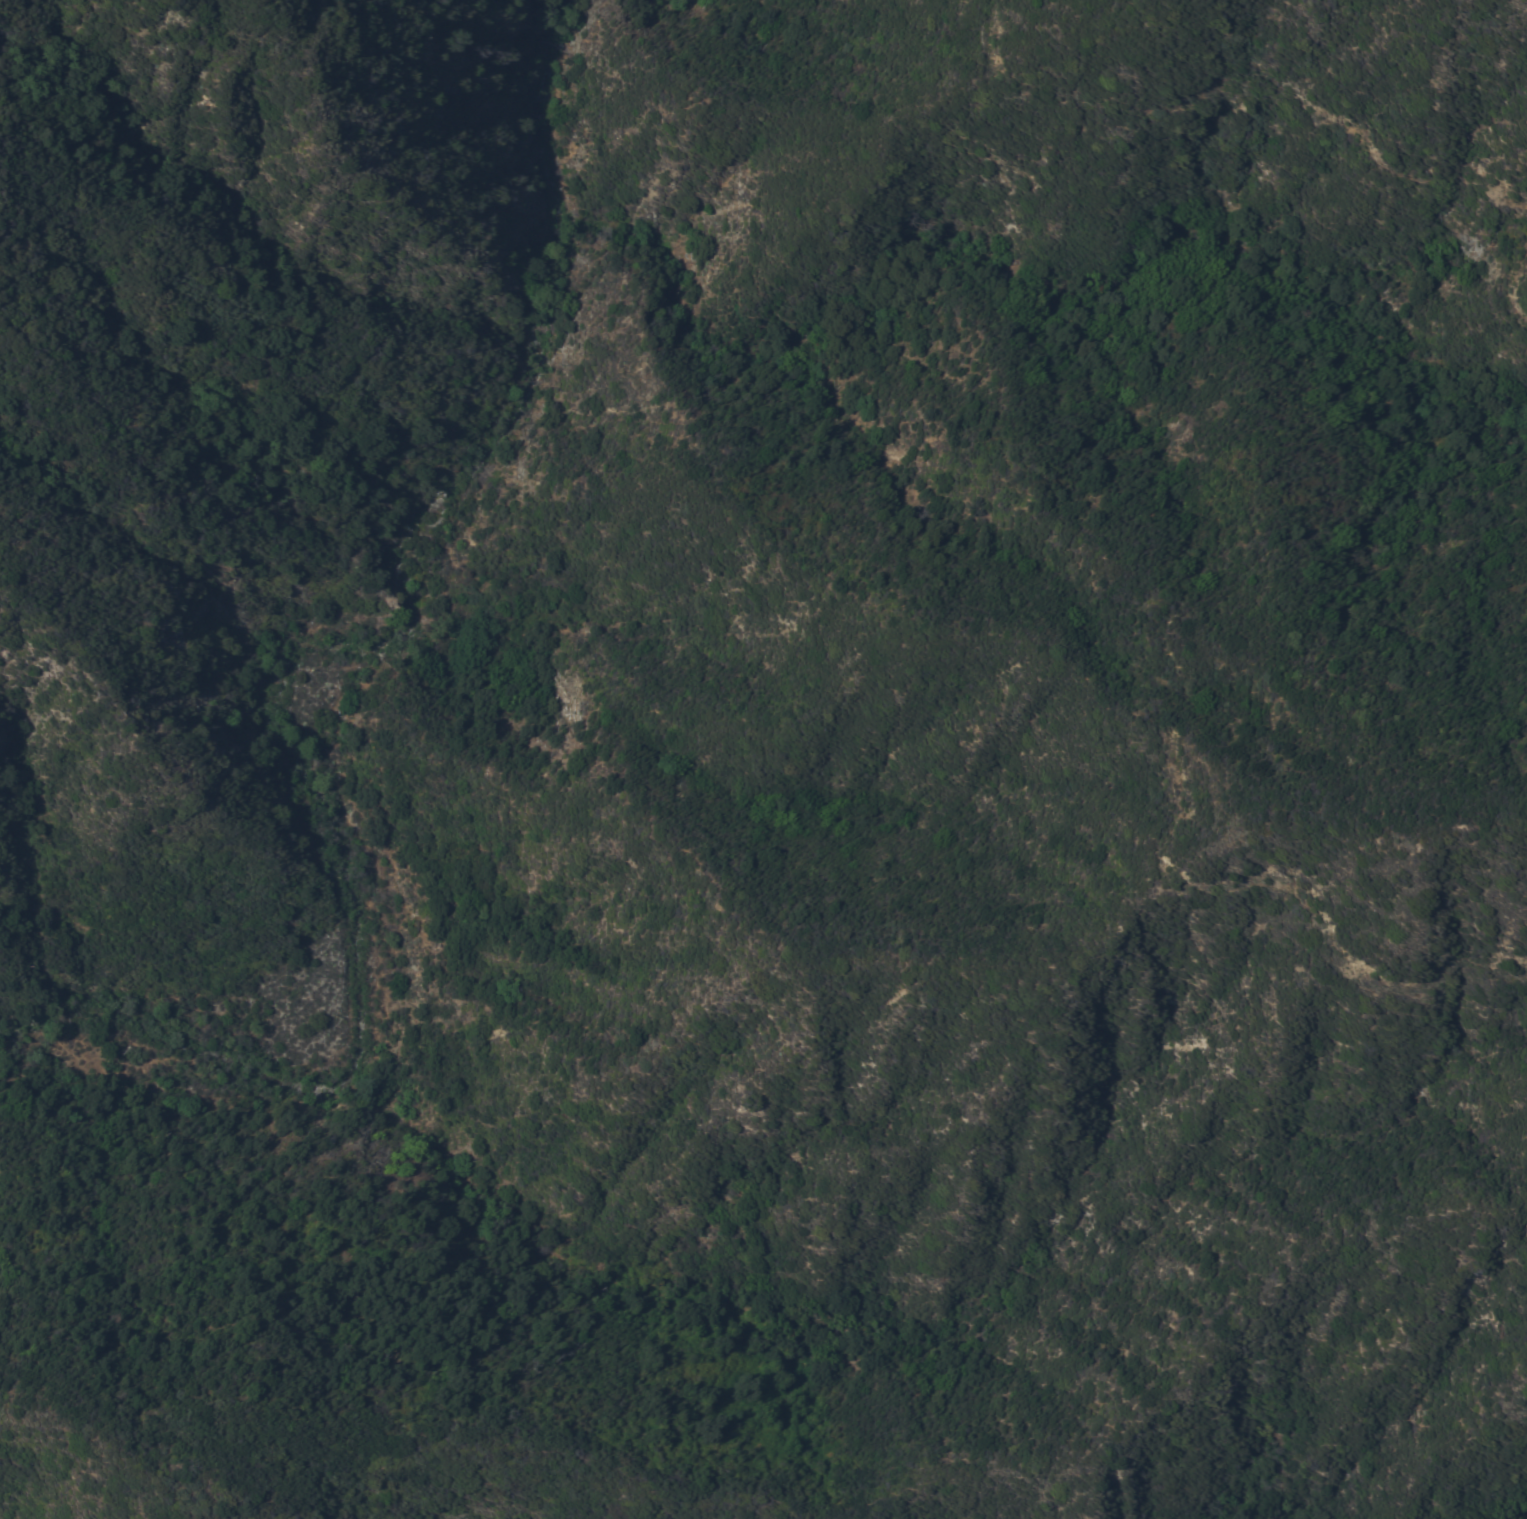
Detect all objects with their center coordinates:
road: (13, 0)
road: (167, 0)
road: (1172, 207)
road: (1114, 840)

